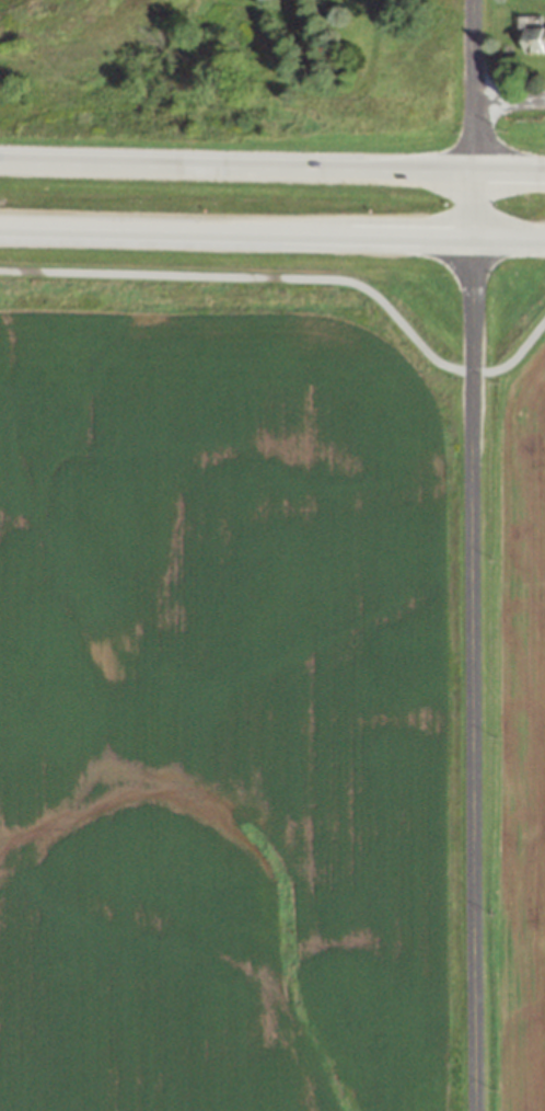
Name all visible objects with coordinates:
building: (531, 35)
quarry: (233, 44)
road: (510, 101)
road: (271, 167)
road: (271, 232)
road: (297, 285)
road: (473, 554)

